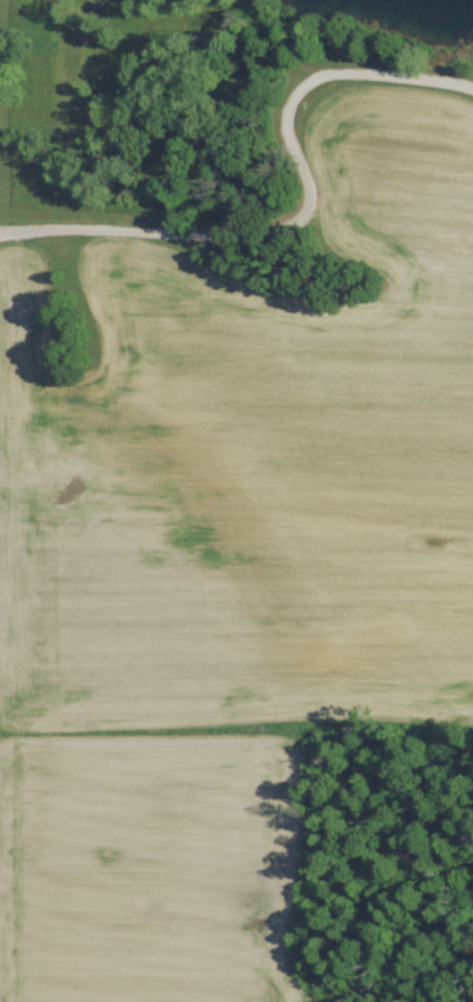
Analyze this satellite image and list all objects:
road: (291, 212)

